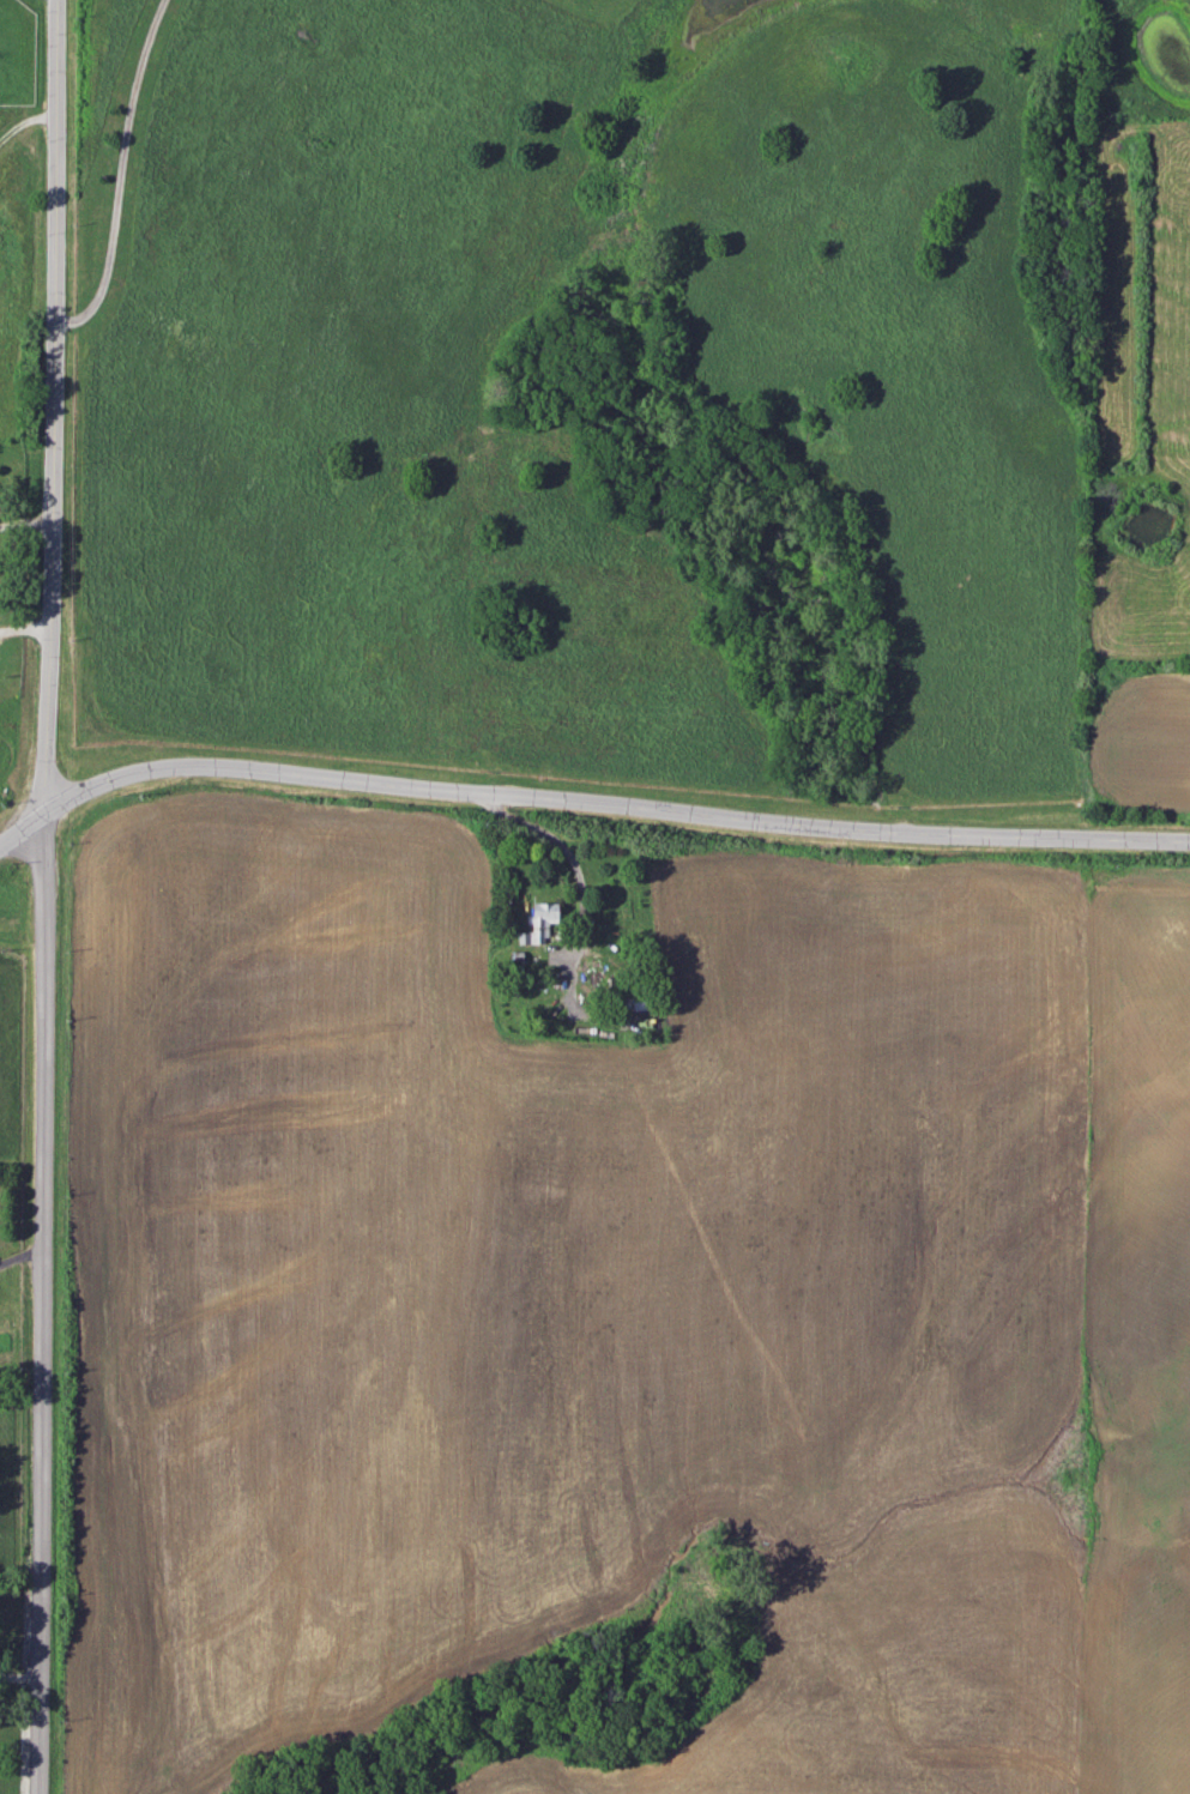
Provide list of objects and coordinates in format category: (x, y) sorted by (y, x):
road: (28, 115)
road: (119, 164)
road: (28, 520)
road: (28, 633)
road: (584, 805)
road: (569, 853)
road: (54, 895)
building: (539, 922)
building: (633, 1001)
road: (25, 1252)
road: (23, 1663)

